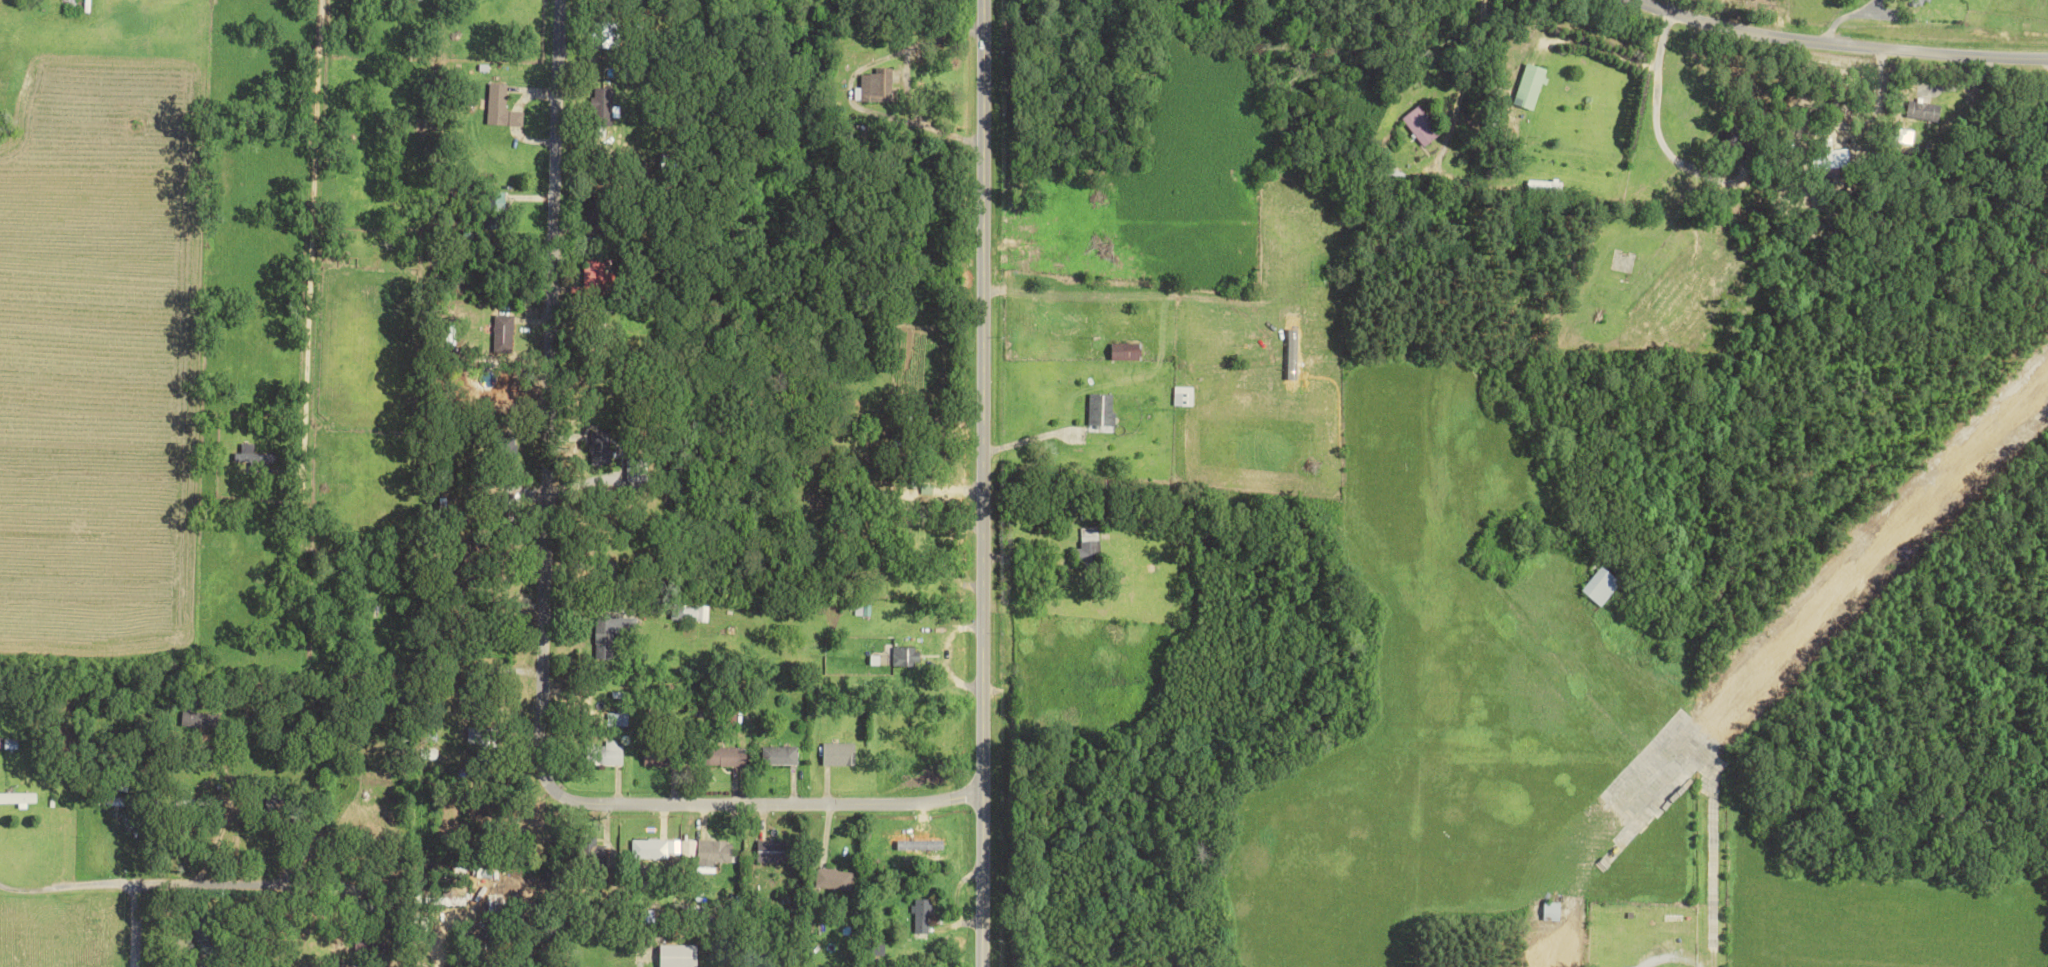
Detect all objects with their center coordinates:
building: (1920, 3)
road: (1848, 47)
road: (1604, 48)
building: (877, 85)
building: (1531, 86)
building: (608, 104)
building: (502, 108)
road: (1657, 110)
building: (1927, 111)
road: (918, 123)
building: (1422, 126)
building: (1840, 158)
building: (1546, 186)
building: (597, 278)
building: (504, 333)
building: (1128, 351)
building: (1184, 396)
building: (1102, 409)
building: (252, 455)
road: (981, 483)
building: (1089, 545)
building: (1601, 586)
building: (690, 614)
road: (555, 616)
building: (611, 633)
building: (906, 657)
building: (619, 714)
building: (202, 719)
building: (482, 741)
building: (12, 743)
building: (611, 753)
building: (839, 753)
building: (780, 754)
building: (661, 756)
building: (726, 756)
building: (19, 798)
building: (650, 848)
building: (709, 849)
building: (775, 850)
building: (834, 878)
road: (110, 881)
building: (922, 914)
building: (206, 932)
building: (680, 955)

